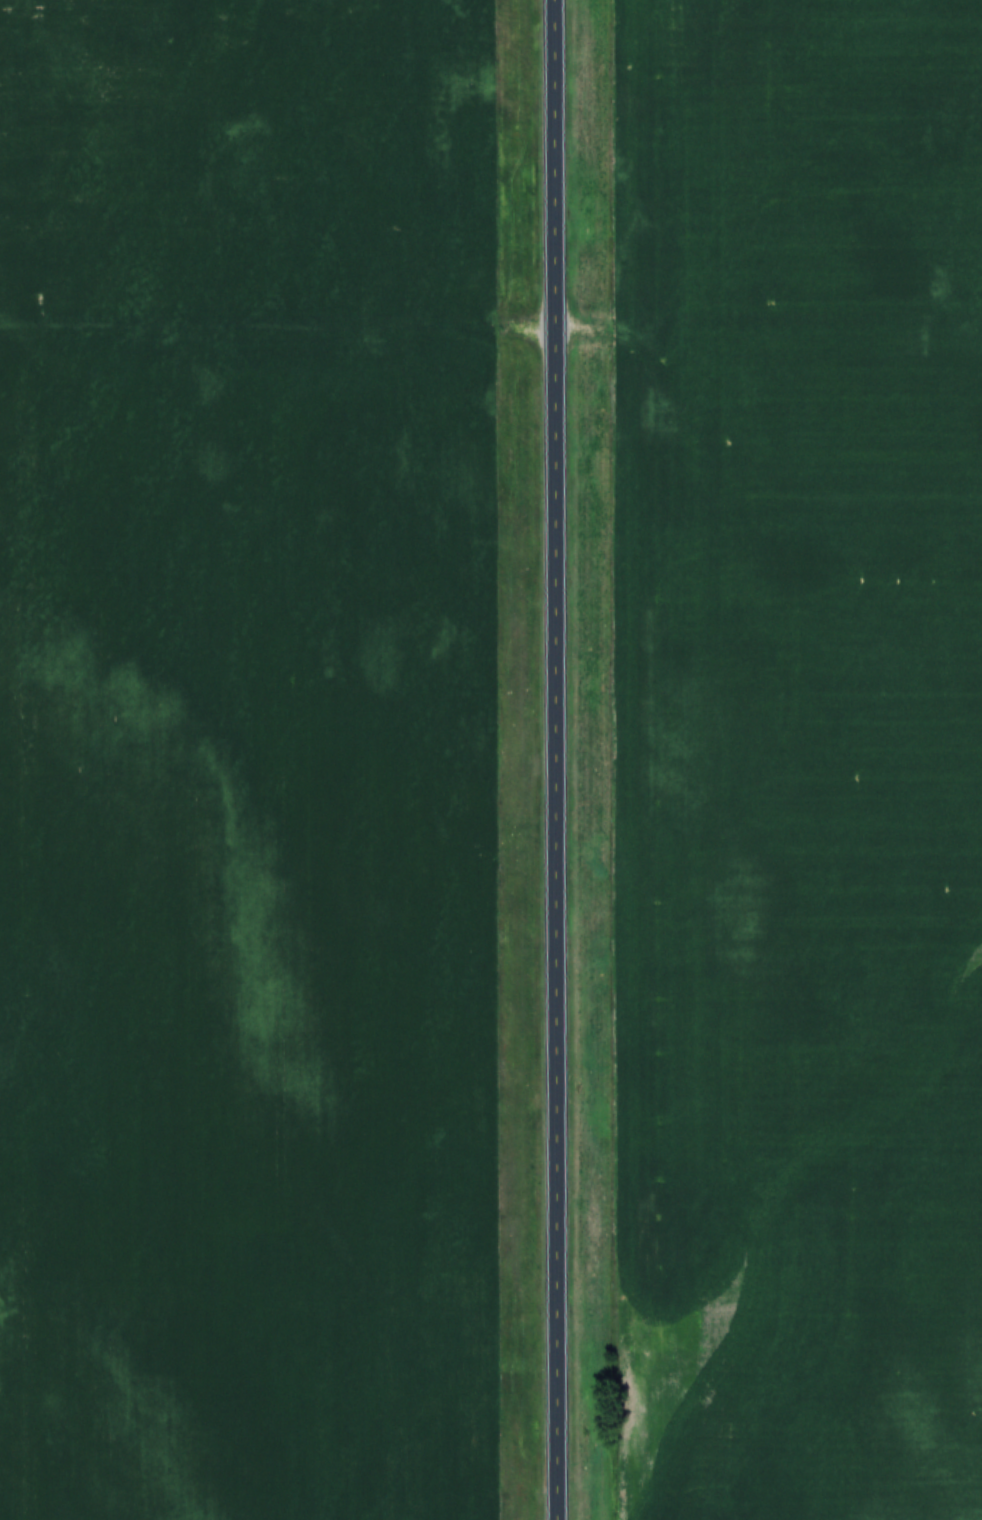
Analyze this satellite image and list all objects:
road: (563, 760)

